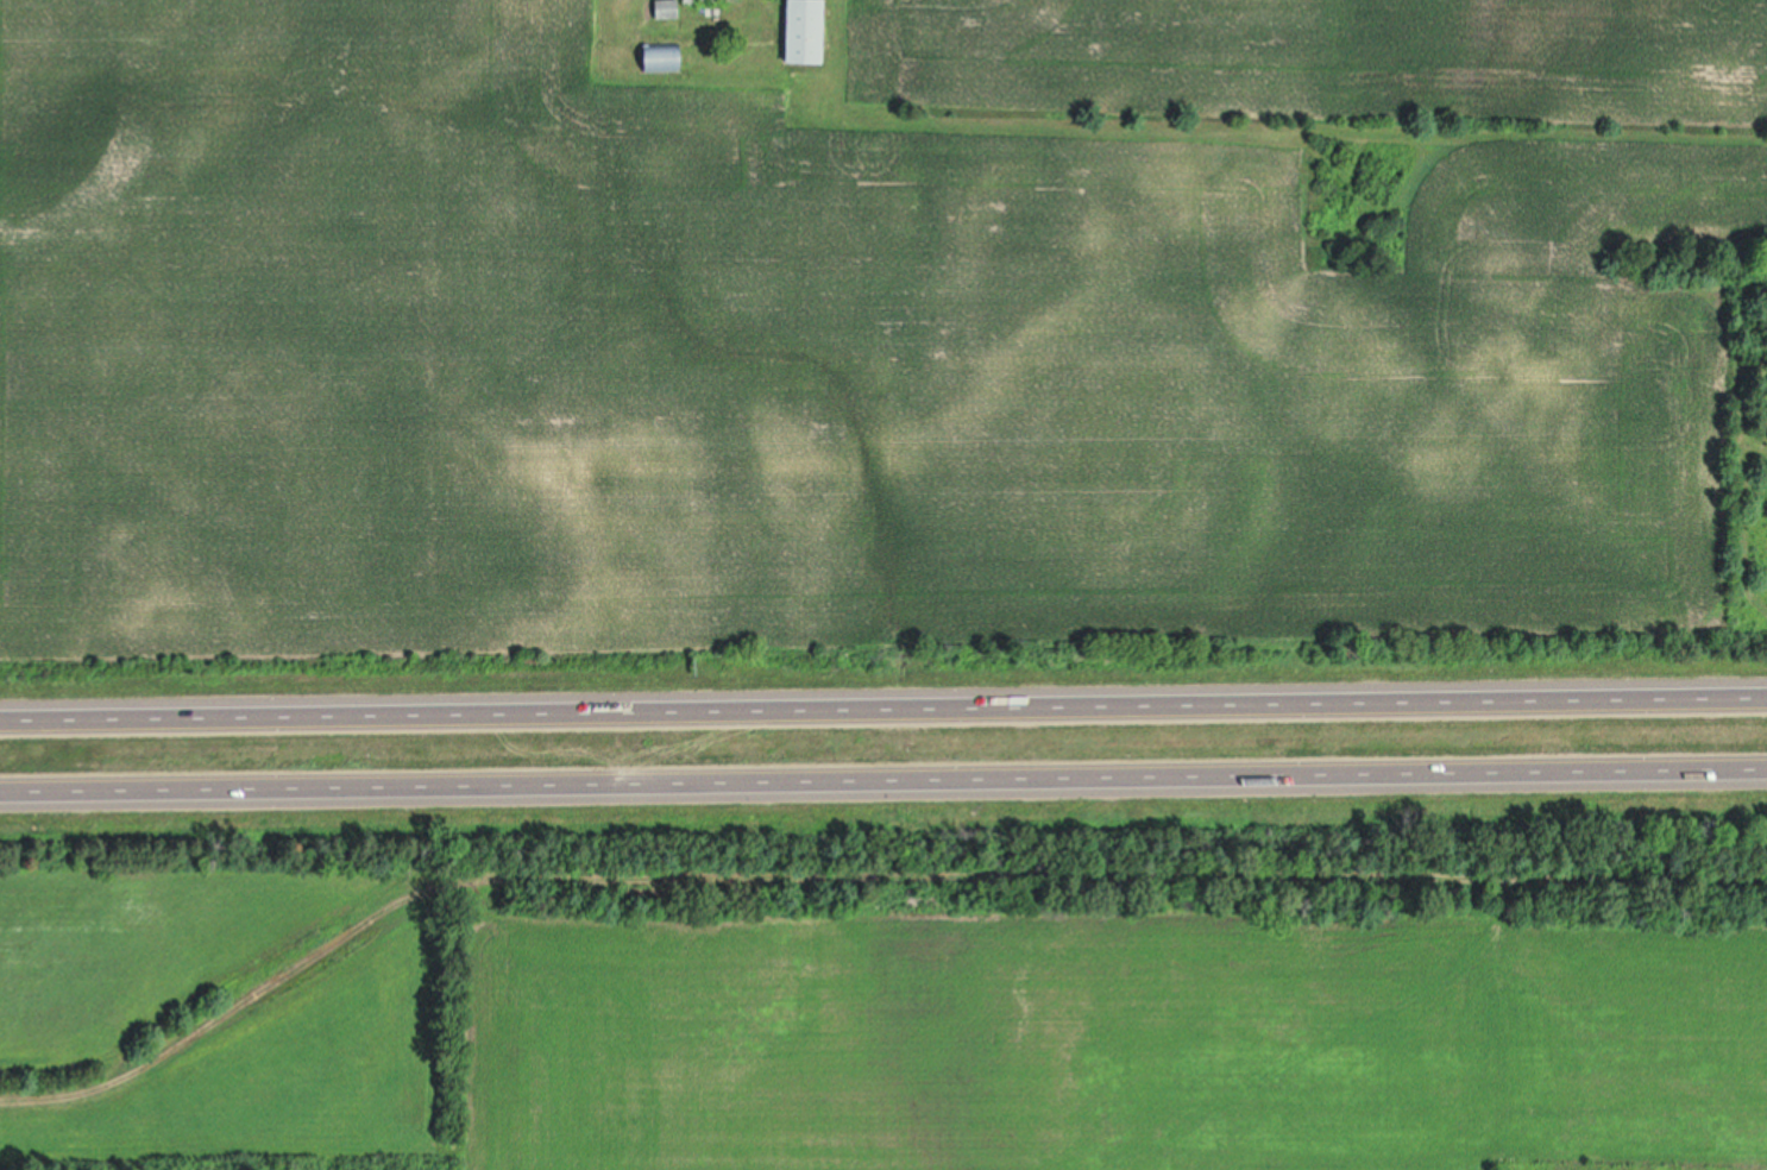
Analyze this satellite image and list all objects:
building: (683, 0)
building: (662, 8)
building: (799, 31)
crop: (872, 329)
road: (883, 706)
road: (883, 781)

